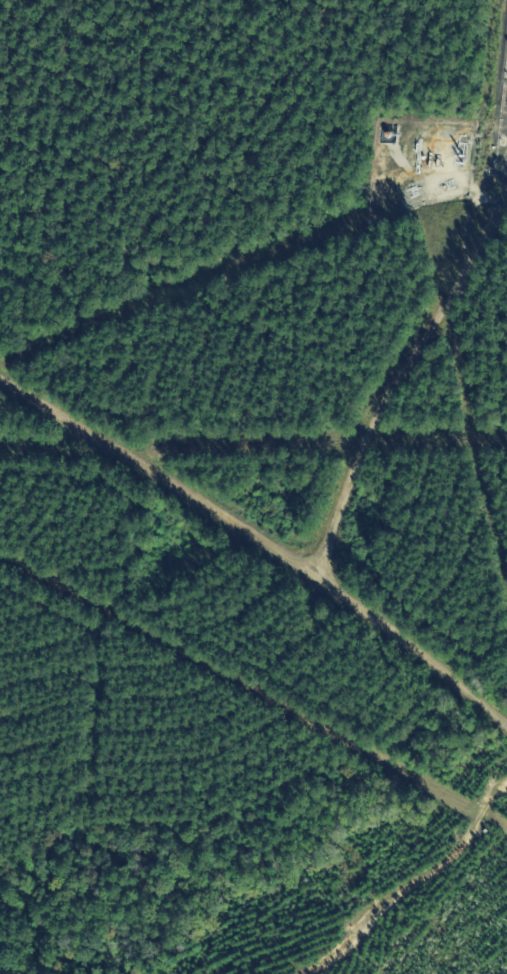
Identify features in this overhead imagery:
road: (260, 553)

